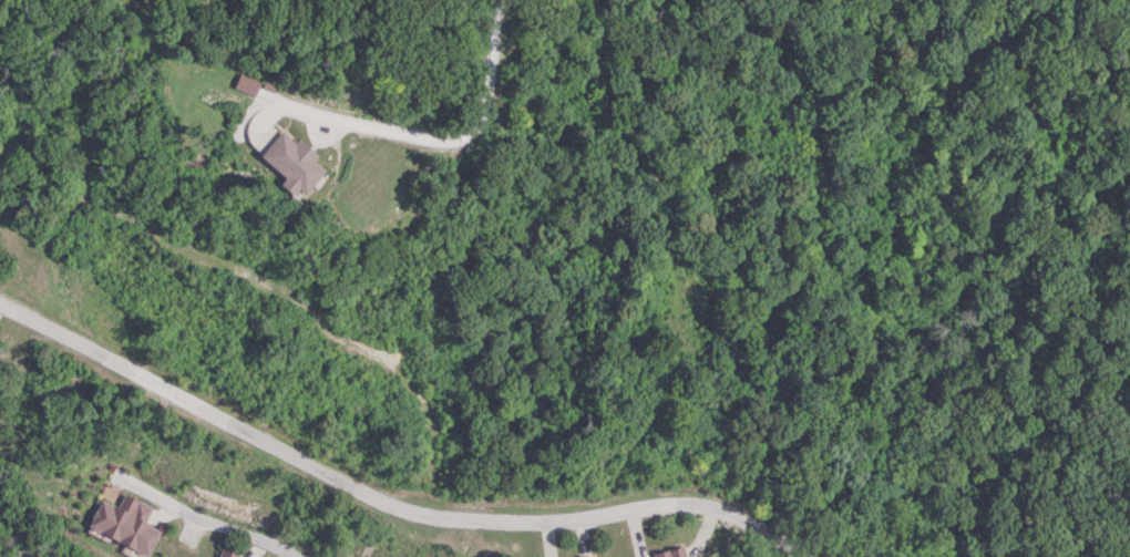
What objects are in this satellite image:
road: (480, 121)
building: (279, 152)
road: (384, 505)
building: (122, 524)
road: (249, 537)
building: (668, 553)
building: (227, 554)
building: (583, 556)
building: (701, 556)

